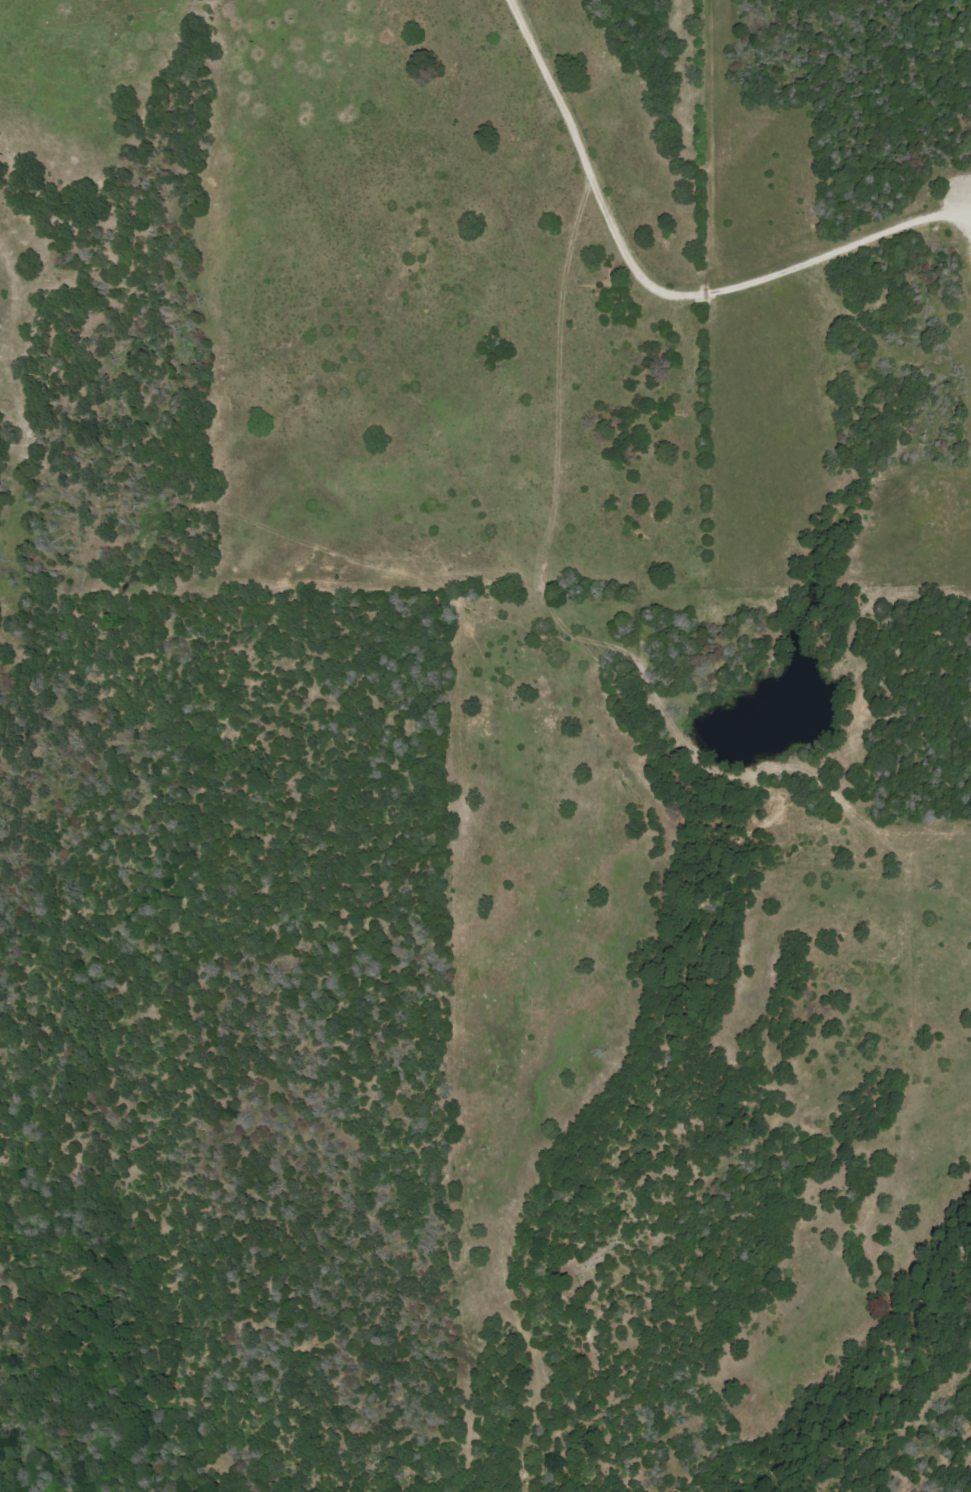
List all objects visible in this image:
road: (896, 83)
road: (663, 278)
road: (723, 866)

